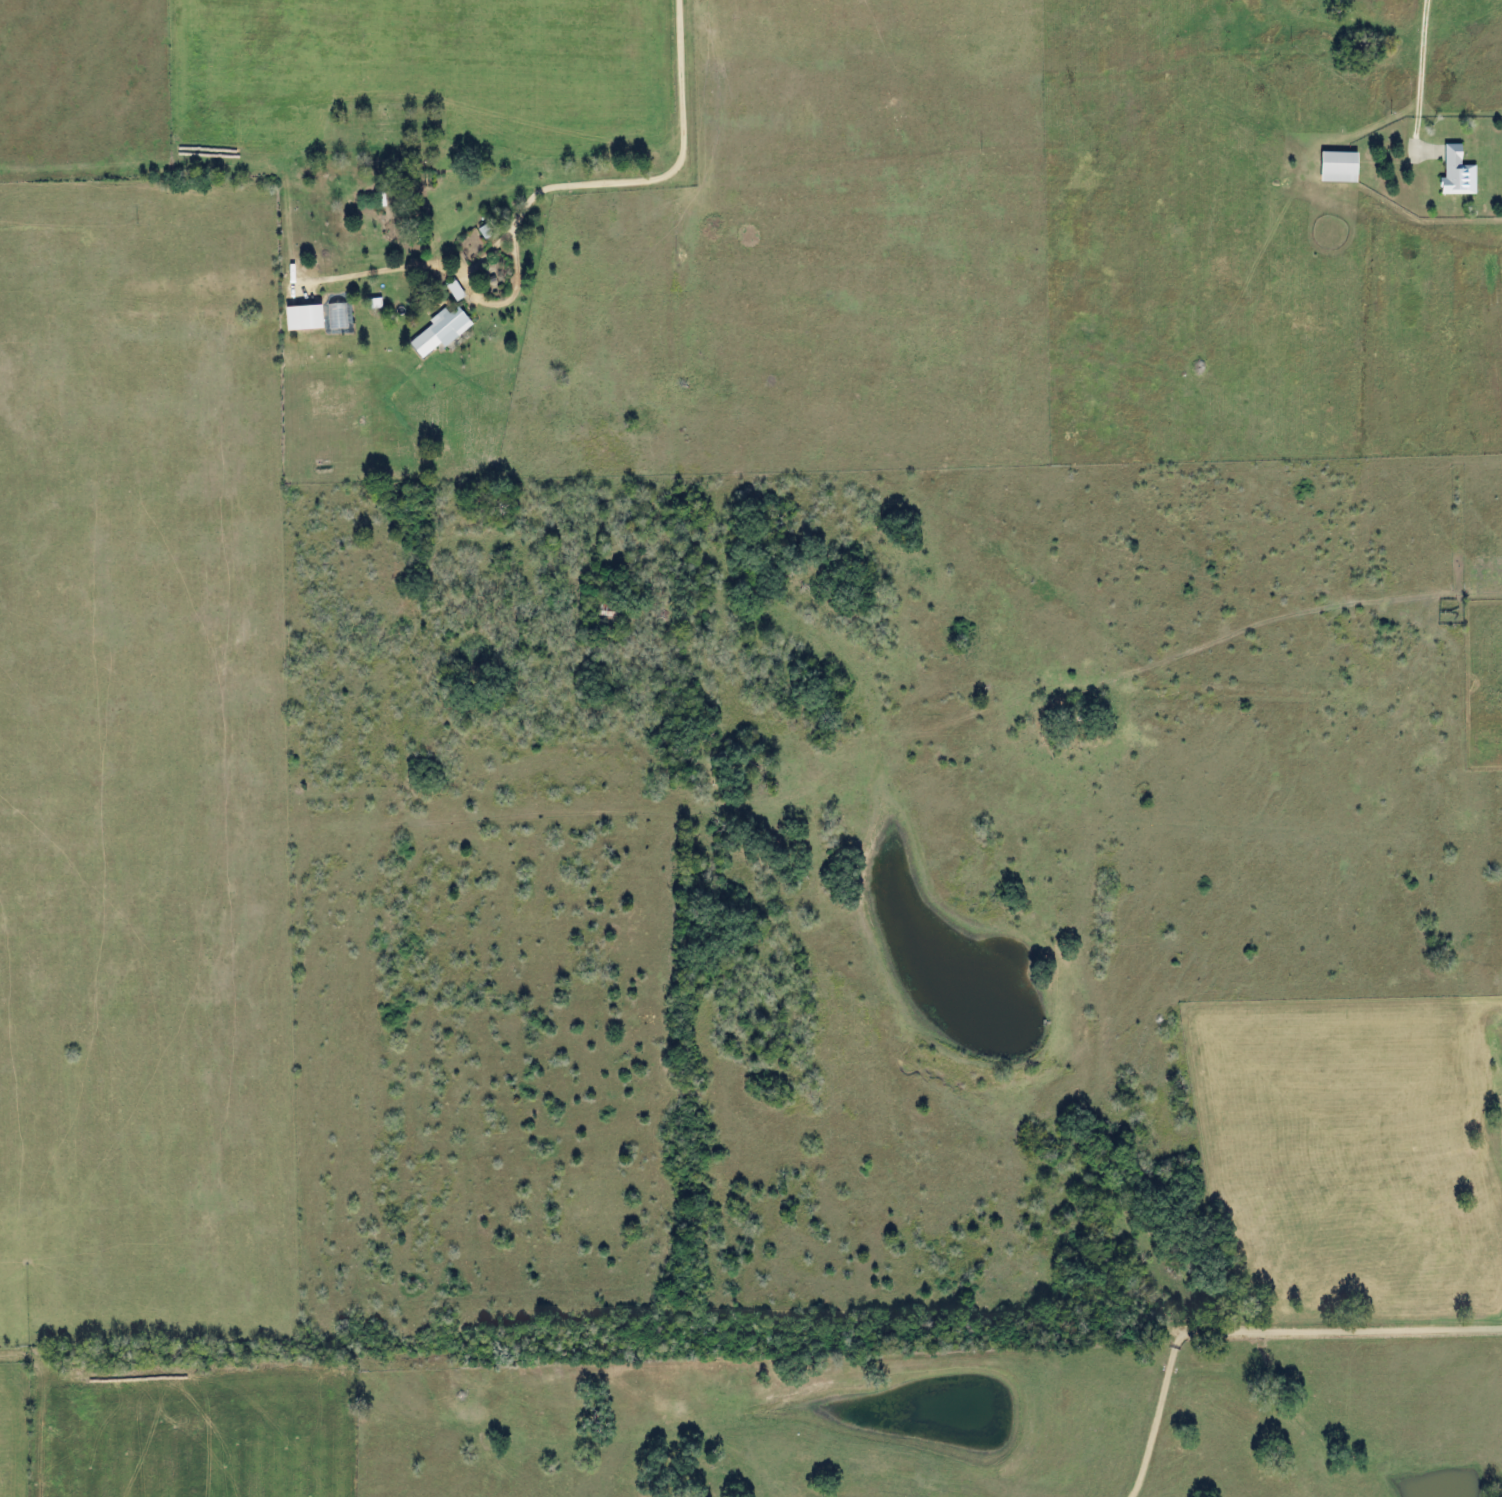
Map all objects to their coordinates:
building: (1331, 167)
building: (1450, 173)
building: (444, 328)
road: (1434, 435)
building: (600, 612)
building: (1499, 1046)
road: (1347, 1327)

